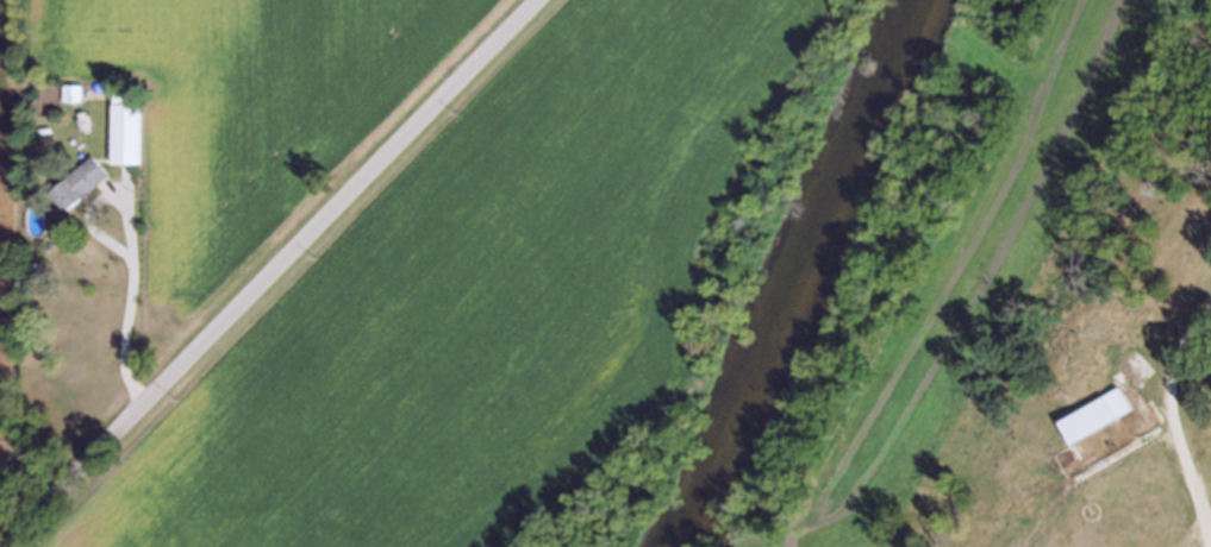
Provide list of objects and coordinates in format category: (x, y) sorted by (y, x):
building: (129, 138)
building: (80, 182)
road: (132, 249)
road: (270, 272)
river: (807, 279)
building: (1099, 415)
road: (1181, 430)
building: (1135, 518)

